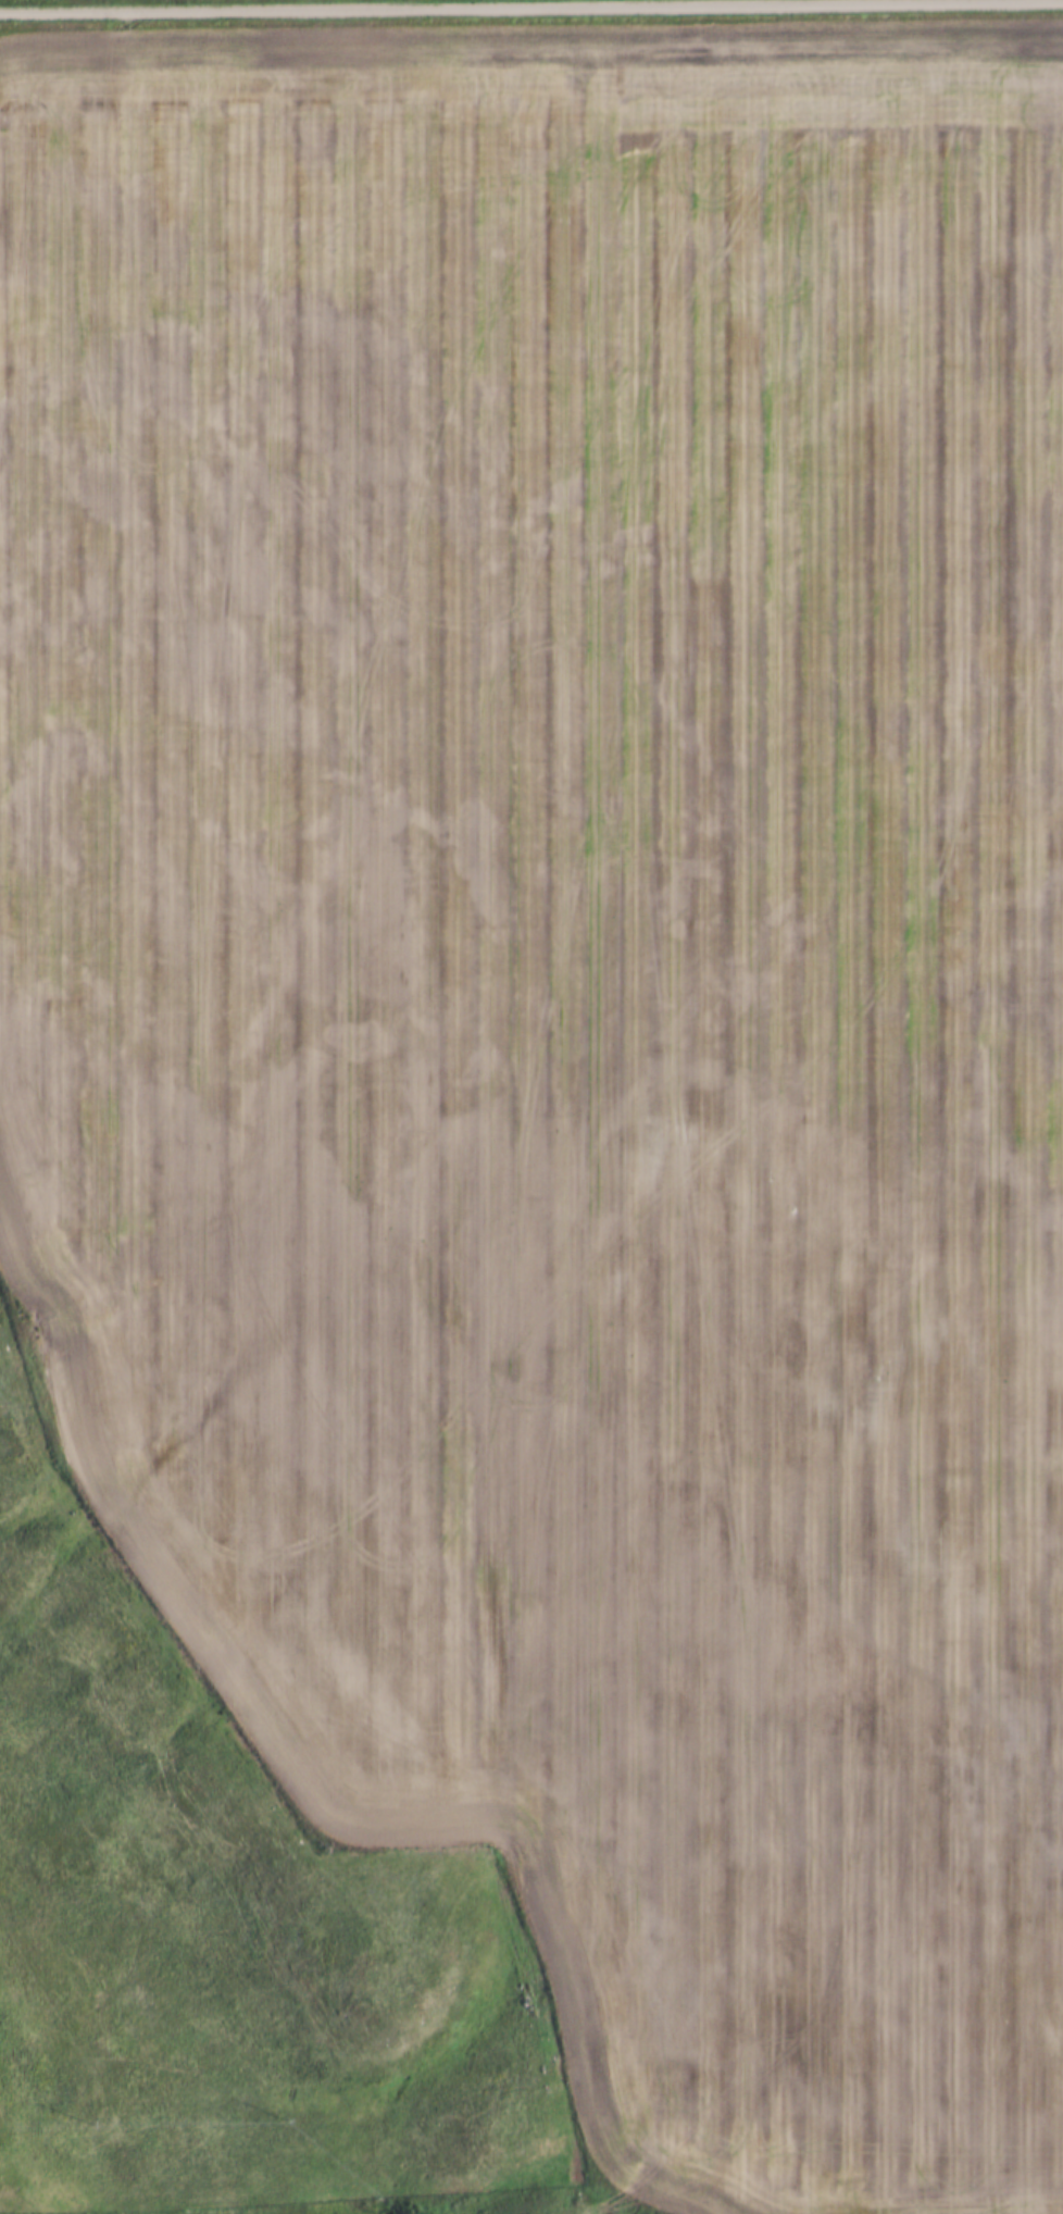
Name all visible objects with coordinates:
road: (530, 5)

